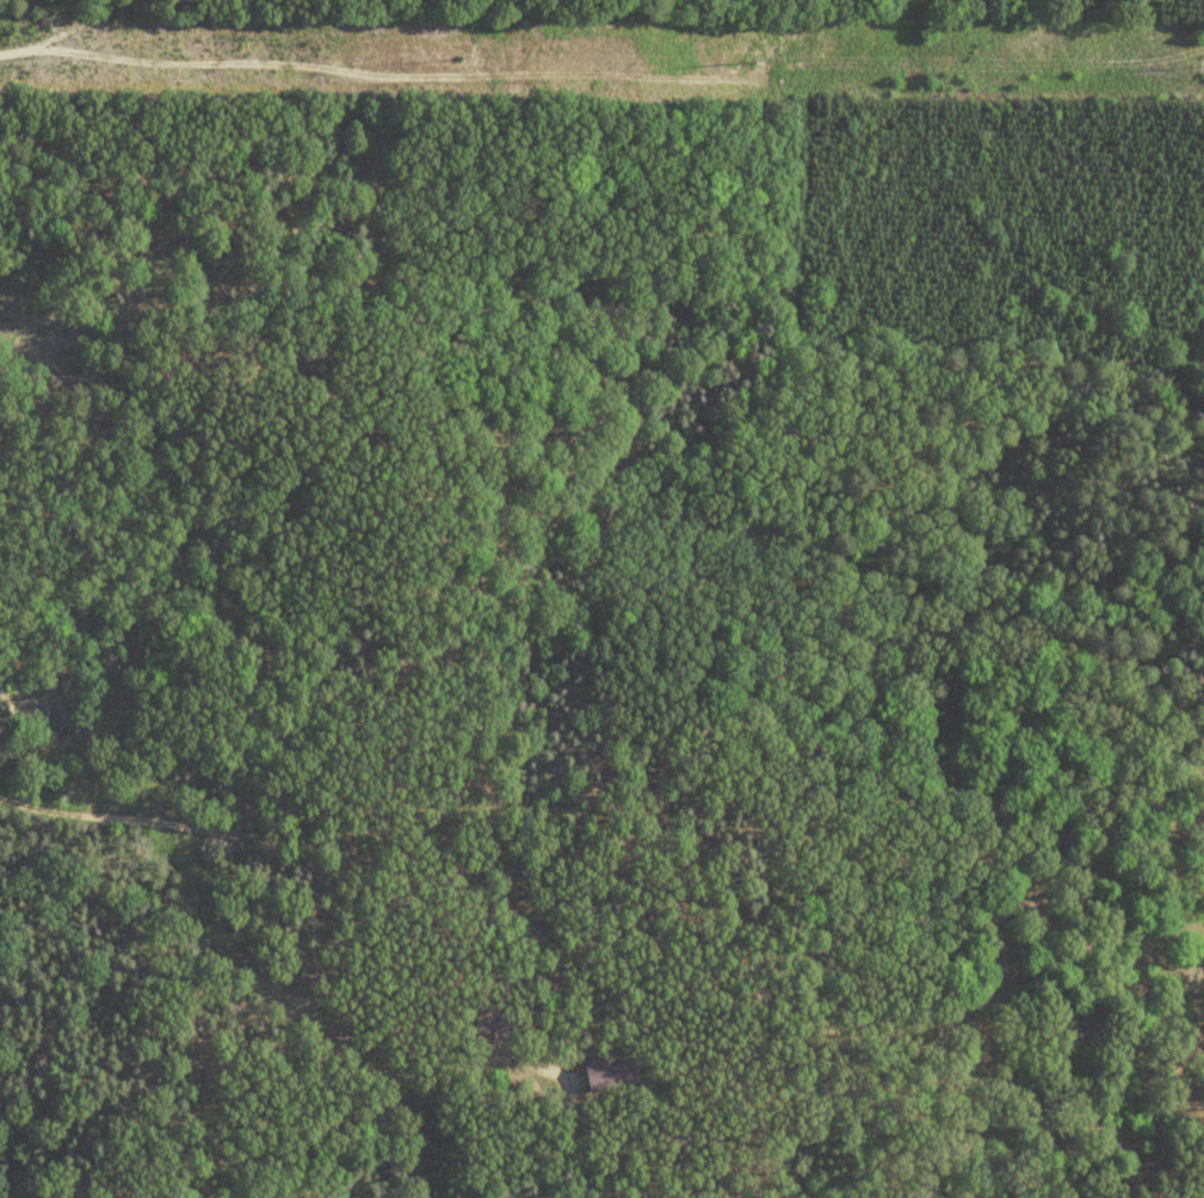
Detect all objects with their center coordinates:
building: (493, 1025)
building: (607, 1073)

